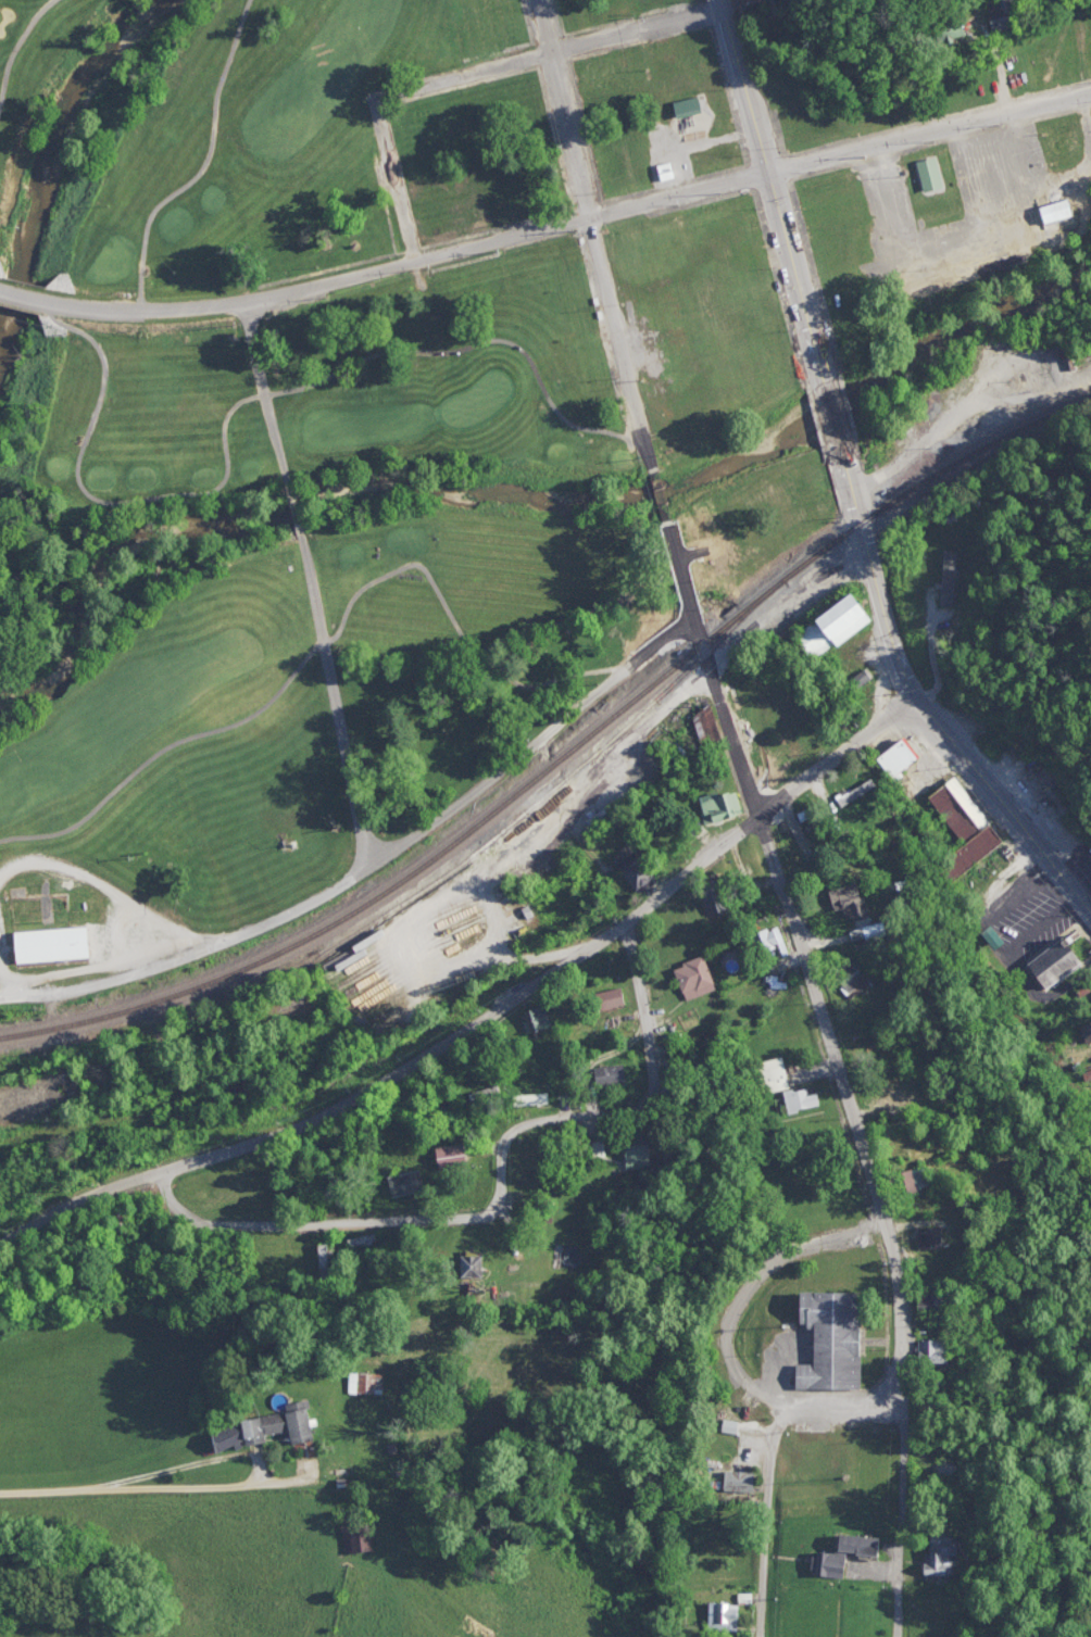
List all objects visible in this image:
building: (743, 0)
building: (760, 0)
building: (1007, 13)
building: (946, 30)
road: (13, 39)
road: (551, 52)
building: (690, 104)
park: (181, 138)
road: (204, 164)
road: (768, 165)
building: (665, 171)
building: (932, 173)
road: (397, 181)
building: (1059, 210)
road: (547, 230)
road: (614, 306)
road: (253, 395)
road: (831, 402)
building: (286, 503)
river: (555, 513)
building: (953, 547)
building: (952, 574)
road: (316, 584)
park: (291, 587)
building: (837, 624)
road: (333, 639)
road: (931, 719)
building: (707, 723)
railway: (565, 752)
road: (841, 757)
building: (895, 758)
building: (855, 790)
building: (720, 810)
building: (965, 829)
road: (376, 864)
building: (636, 868)
building: (711, 899)
building: (851, 902)
building: (766, 941)
building: (51, 947)
building: (1058, 961)
building: (853, 975)
building: (697, 977)
building: (612, 997)
building: (536, 1019)
building: (666, 1062)
road: (400, 1065)
building: (611, 1073)
building: (773, 1074)
building: (799, 1097)
building: (529, 1099)
building: (891, 1099)
road: (853, 1115)
building: (453, 1154)
building: (639, 1155)
building: (405, 1182)
road: (500, 1186)
building: (931, 1237)
building: (569, 1256)
building: (322, 1259)
building: (479, 1265)
road: (750, 1283)
building: (939, 1304)
building: (836, 1340)
building: (931, 1351)
building: (366, 1383)
building: (271, 1427)
building: (817, 1452)
road: (774, 1459)
road: (124, 1482)
building: (737, 1482)
building: (360, 1537)
building: (848, 1551)
building: (942, 1551)
building: (725, 1615)

